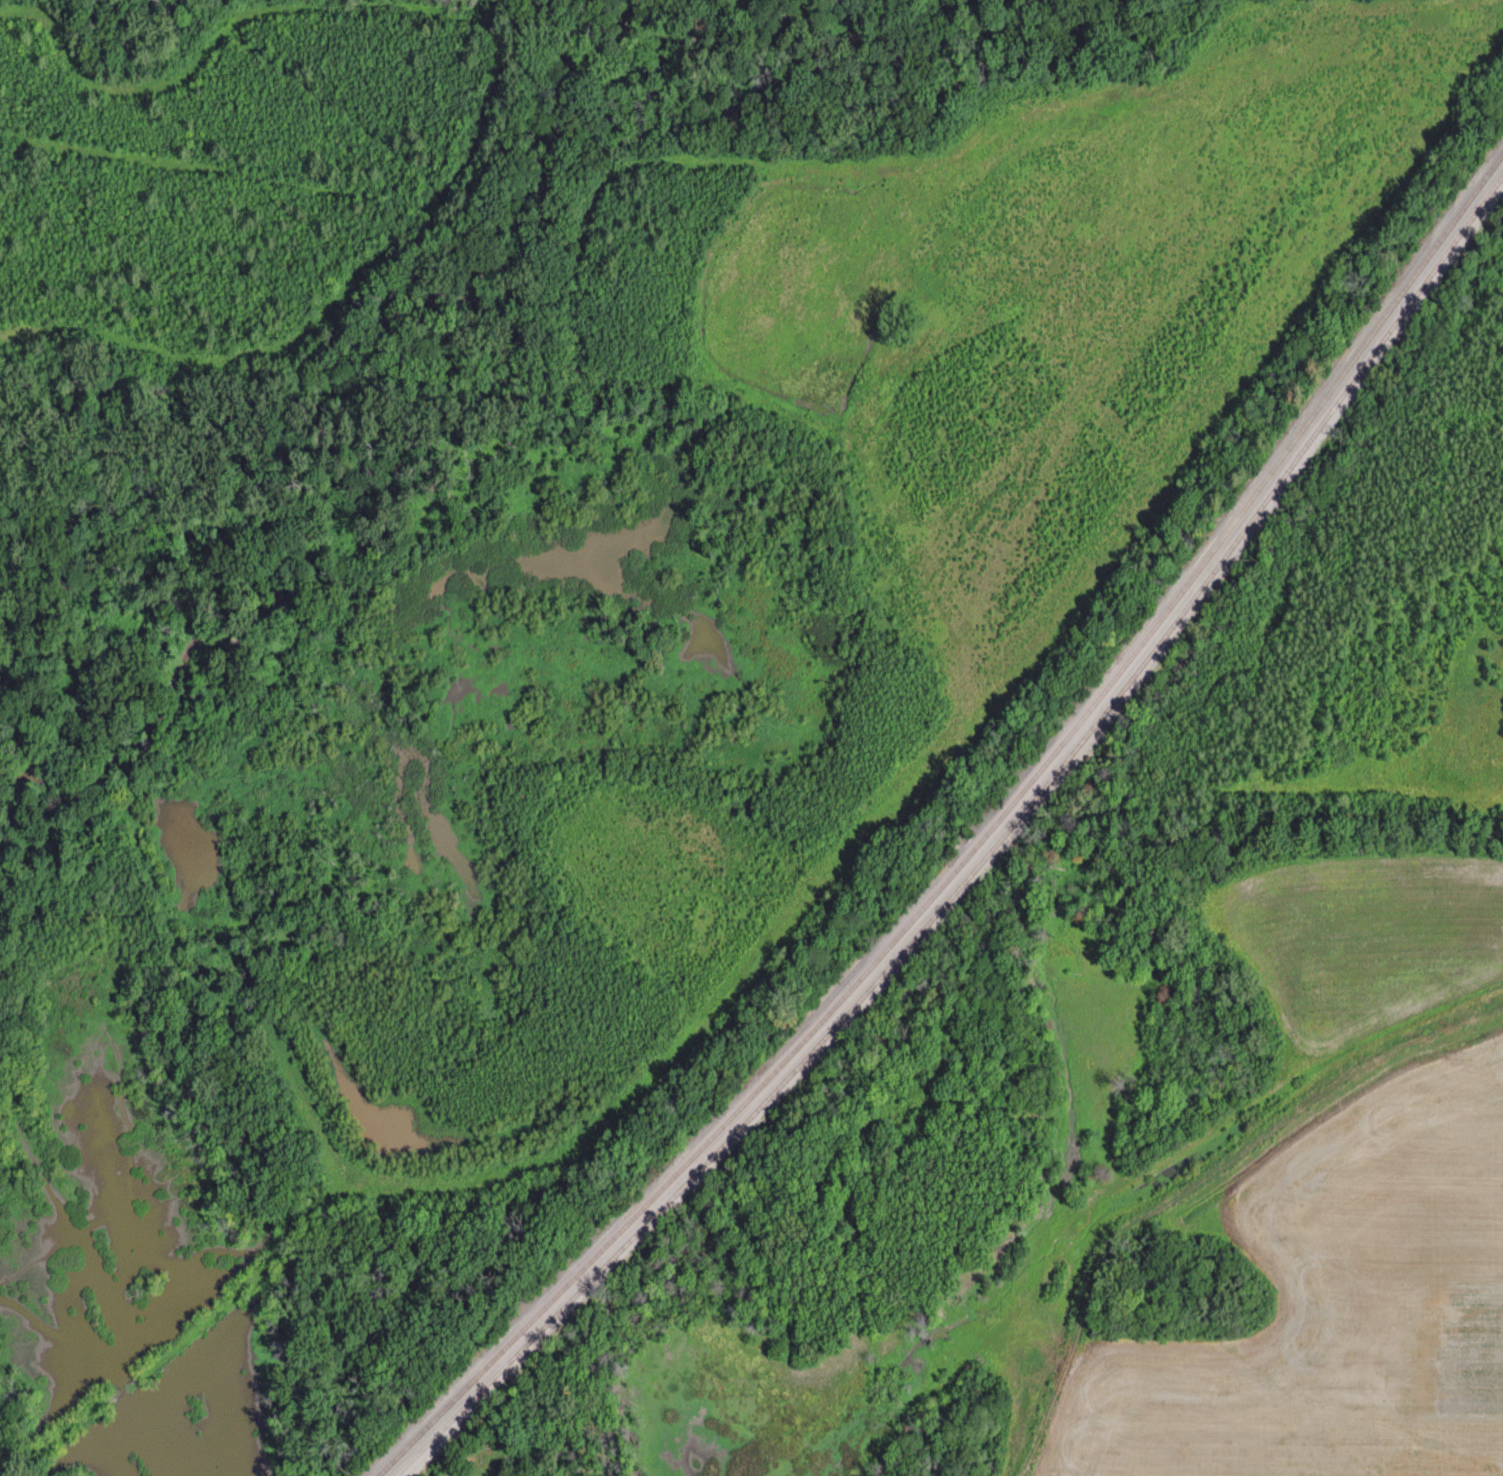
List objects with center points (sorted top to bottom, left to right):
railway: (976, 845)
railway: (984, 855)
park: (493, 1452)

